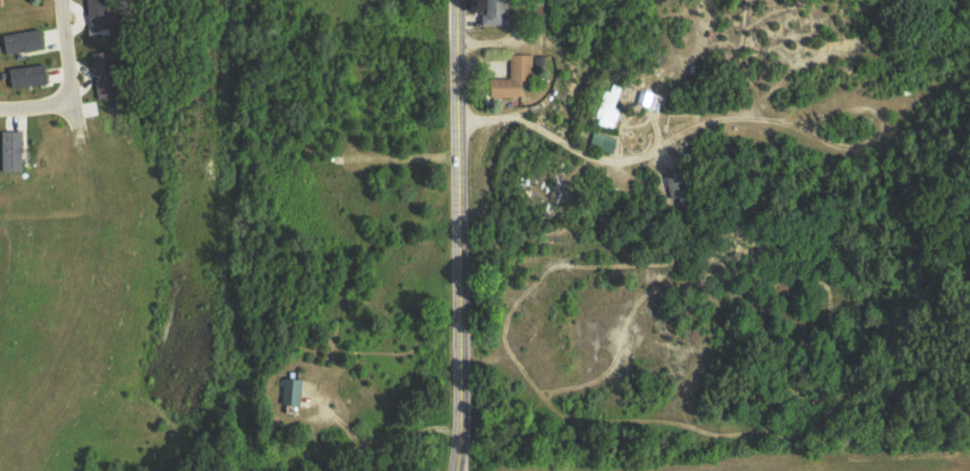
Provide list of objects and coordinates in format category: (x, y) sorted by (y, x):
building: (494, 12)
building: (96, 13)
building: (21, 40)
building: (101, 58)
road: (69, 66)
building: (26, 75)
building: (512, 76)
building: (609, 107)
road: (37, 109)
building: (604, 140)
building: (10, 150)
road: (461, 235)
building: (290, 389)
road: (462, 464)

